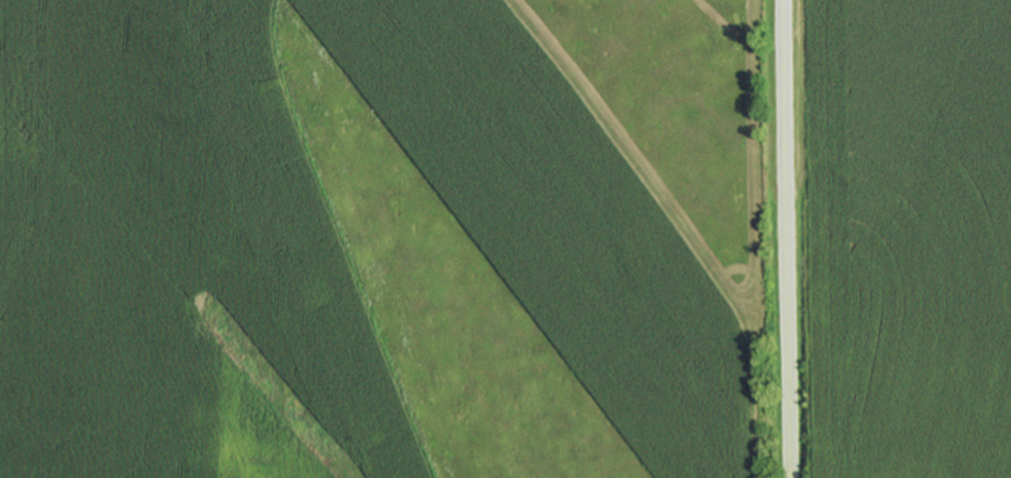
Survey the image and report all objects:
road: (785, 239)

